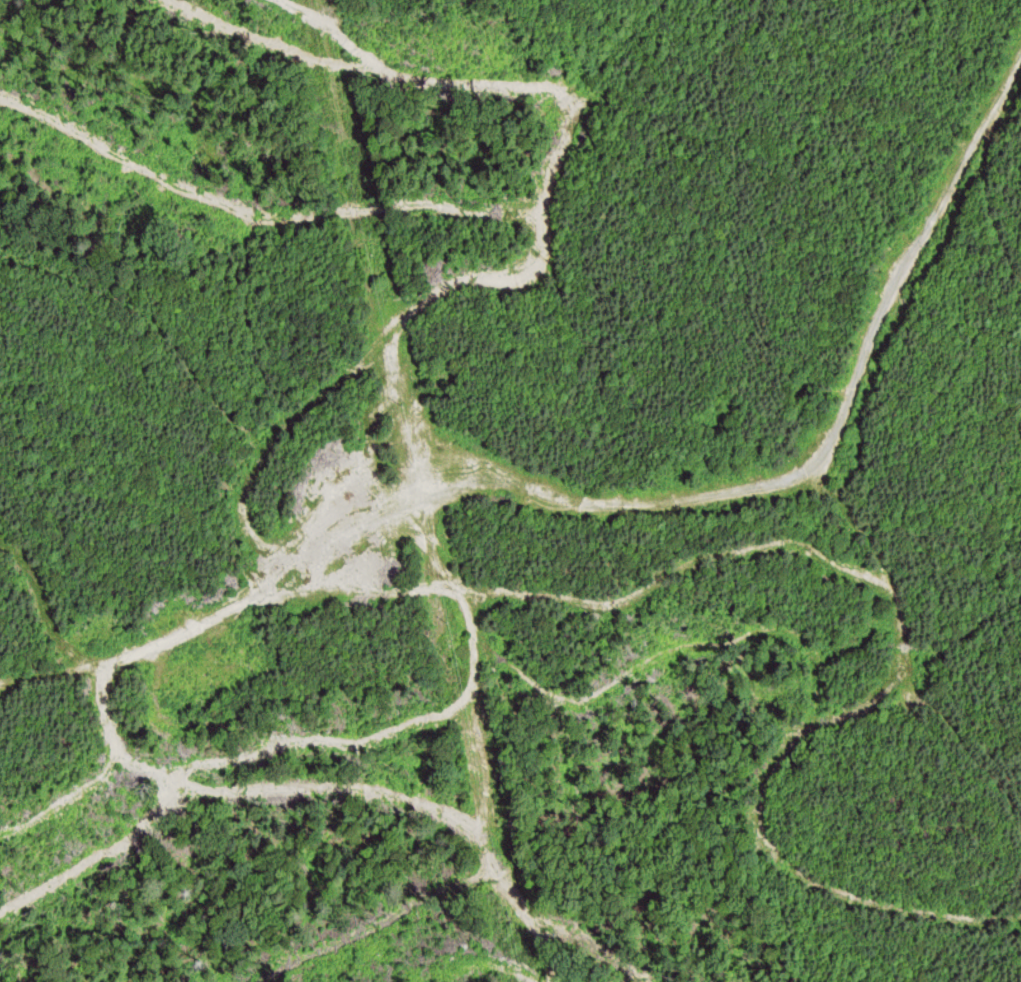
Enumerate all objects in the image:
road: (864, 317)

